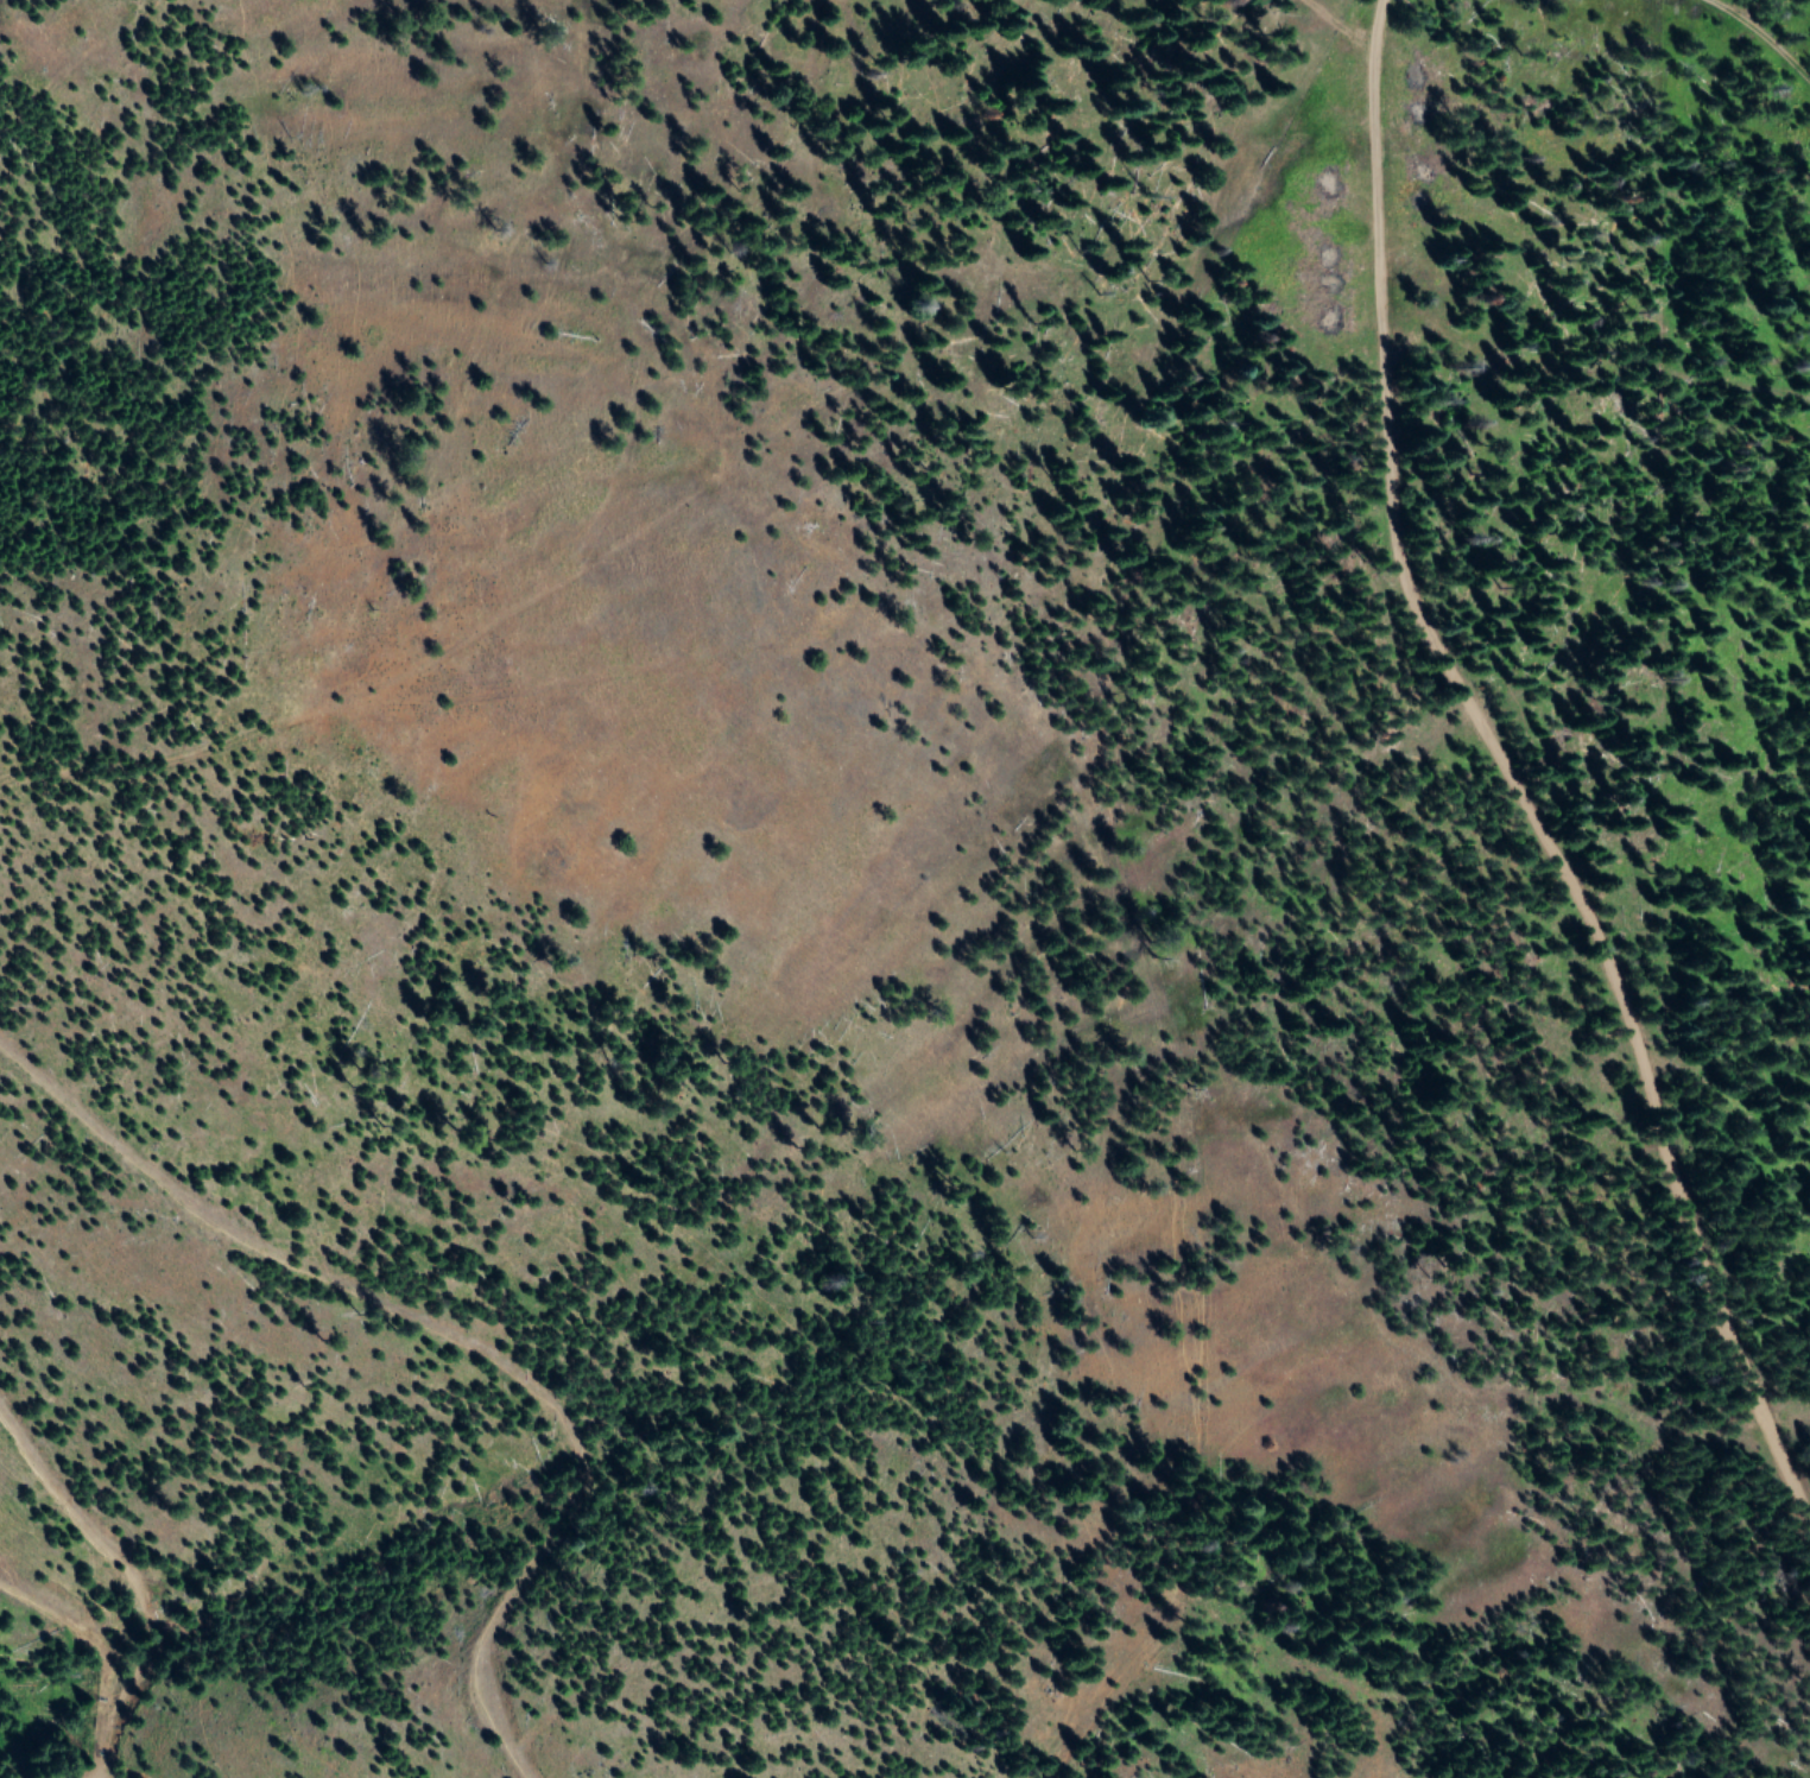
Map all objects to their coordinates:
road: (184, 609)
road: (1529, 700)
road: (162, 1511)

